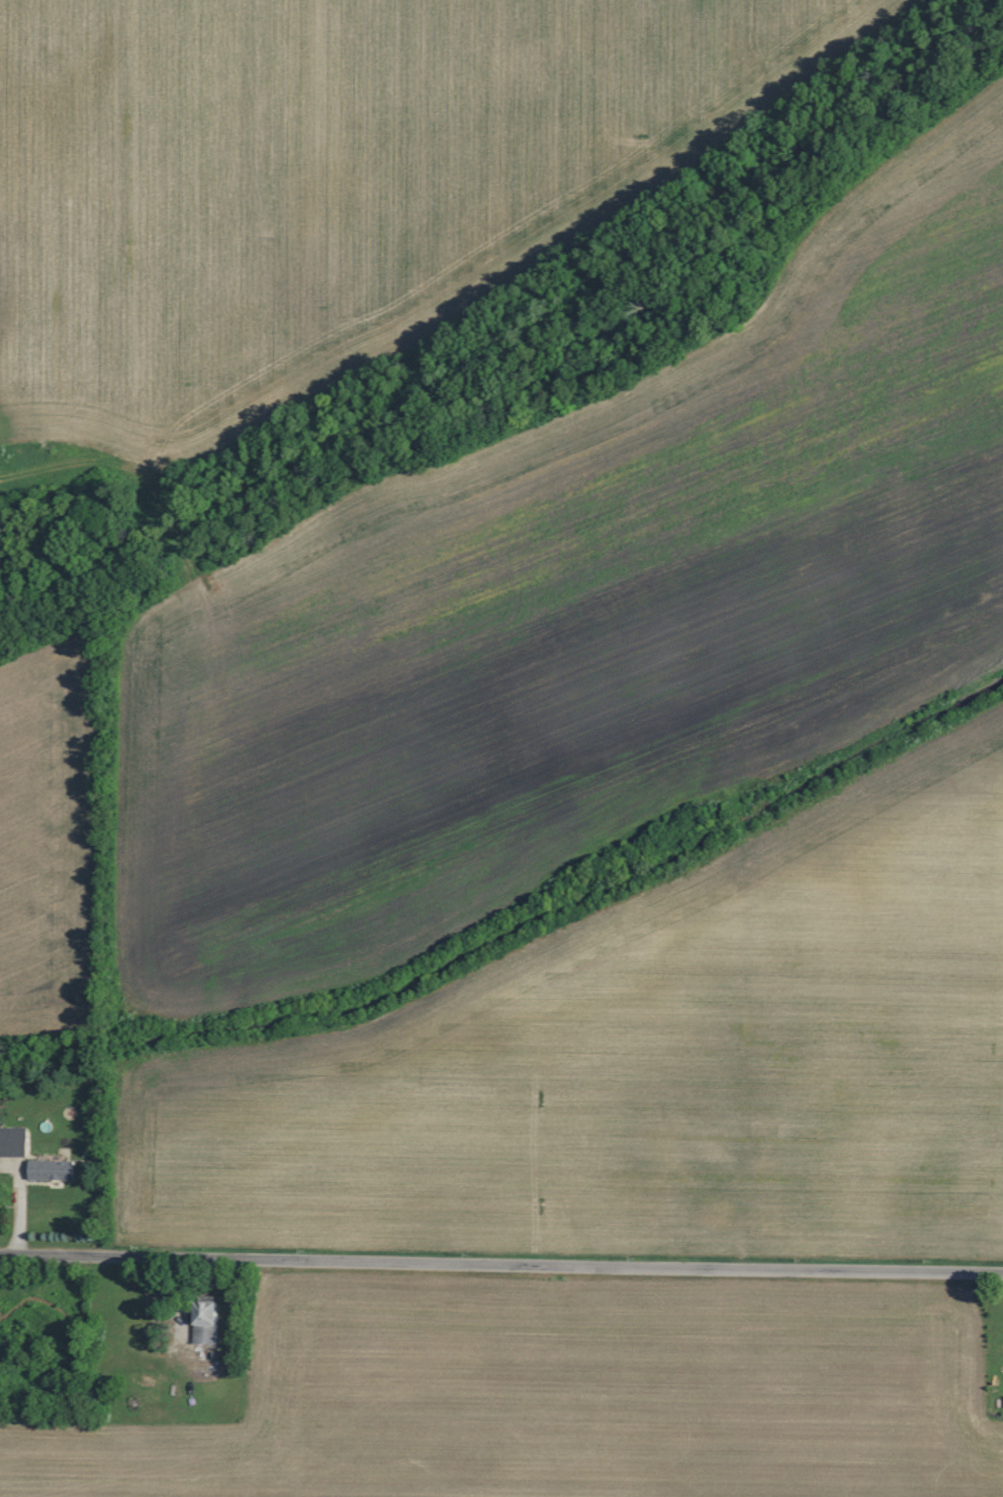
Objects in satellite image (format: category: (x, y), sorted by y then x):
building: (14, 1142)
building: (53, 1170)
road: (501, 1261)
building: (208, 1322)

